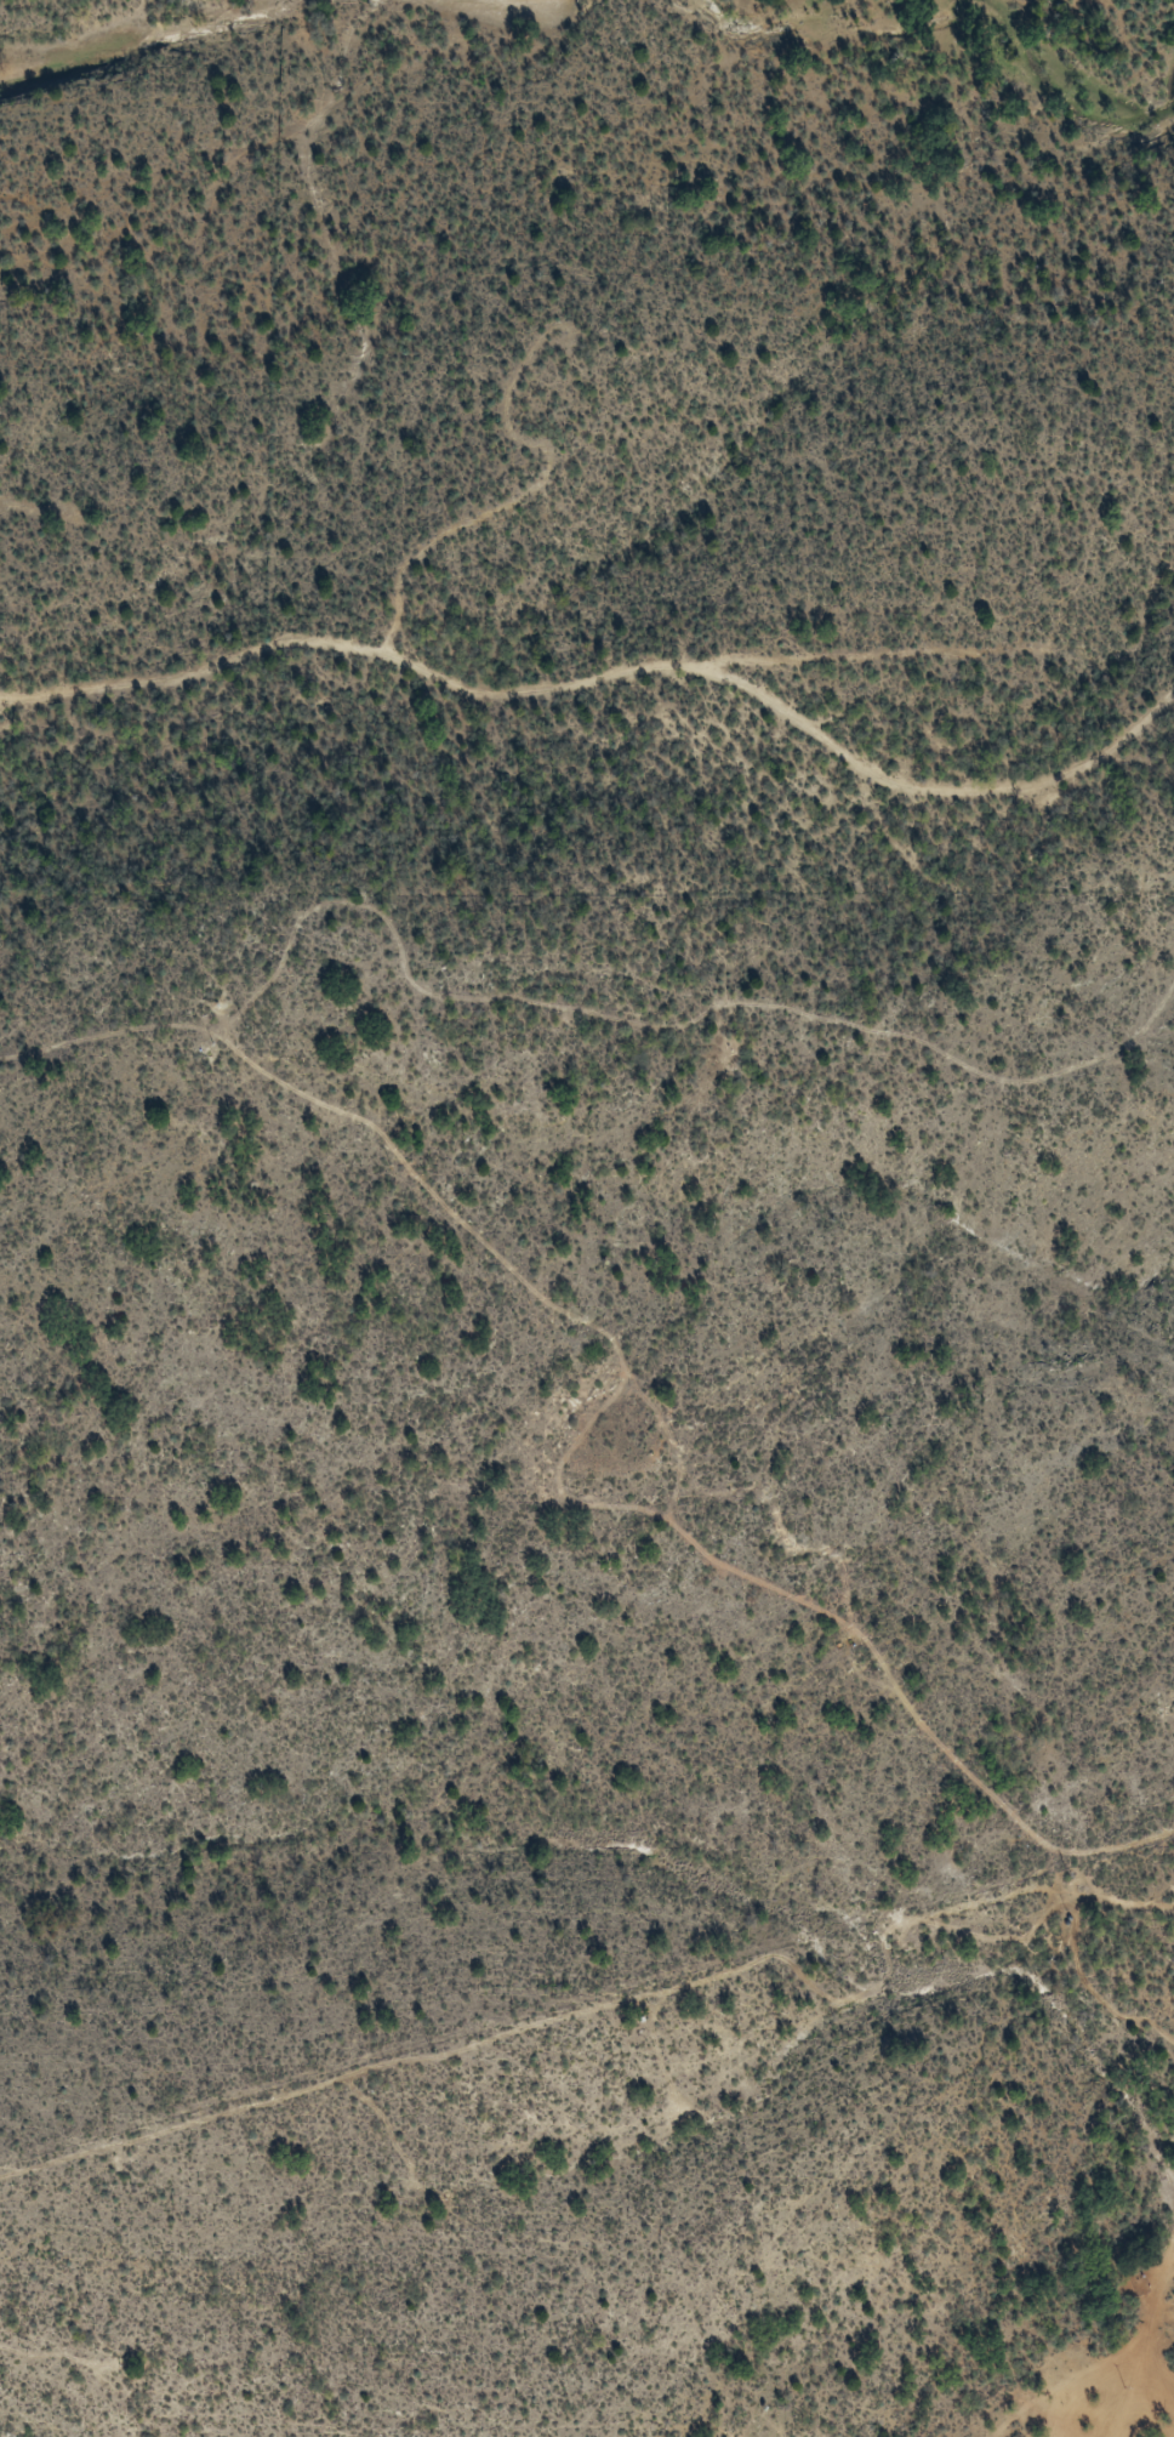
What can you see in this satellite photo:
road: (1027, 1829)

